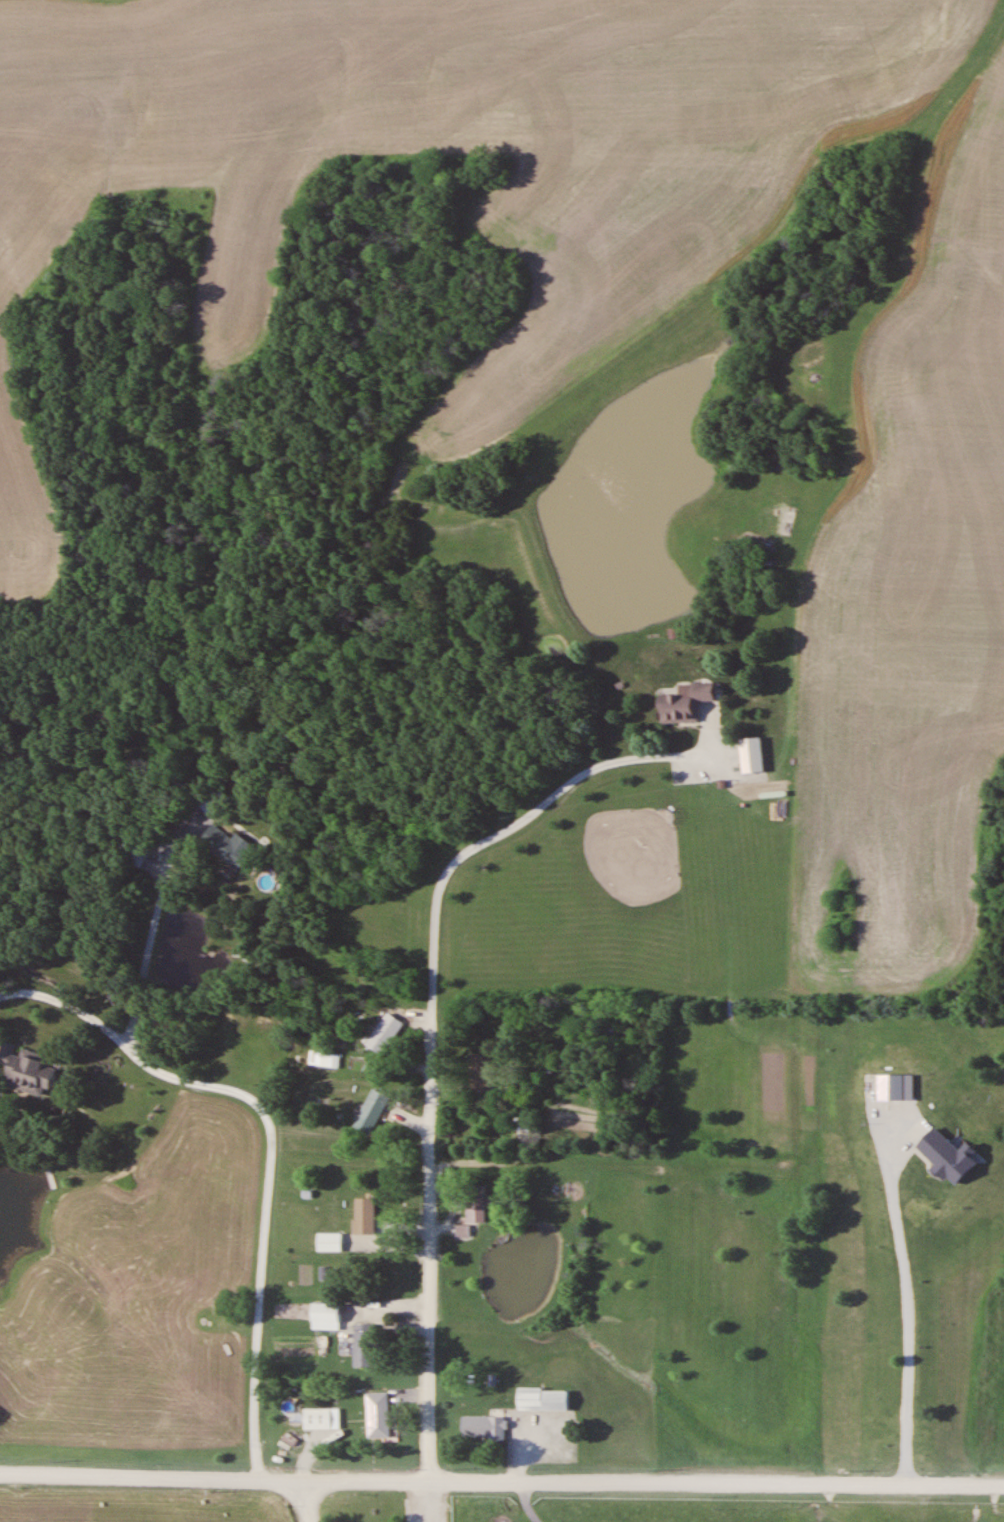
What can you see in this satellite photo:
building: (686, 702)
building: (218, 802)
building: (235, 849)
road: (145, 982)
building: (386, 1034)
building: (328, 1060)
building: (27, 1069)
building: (482, 1073)
building: (373, 1112)
building: (521, 1124)
road: (272, 1146)
road: (421, 1171)
road: (507, 1185)
building: (477, 1203)
building: (365, 1215)
building: (330, 1241)
road: (905, 1289)
building: (326, 1316)
building: (365, 1344)
building: (543, 1400)
building: (378, 1415)
building: (317, 1419)
building: (484, 1428)
road: (501, 1481)
road: (305, 1502)

